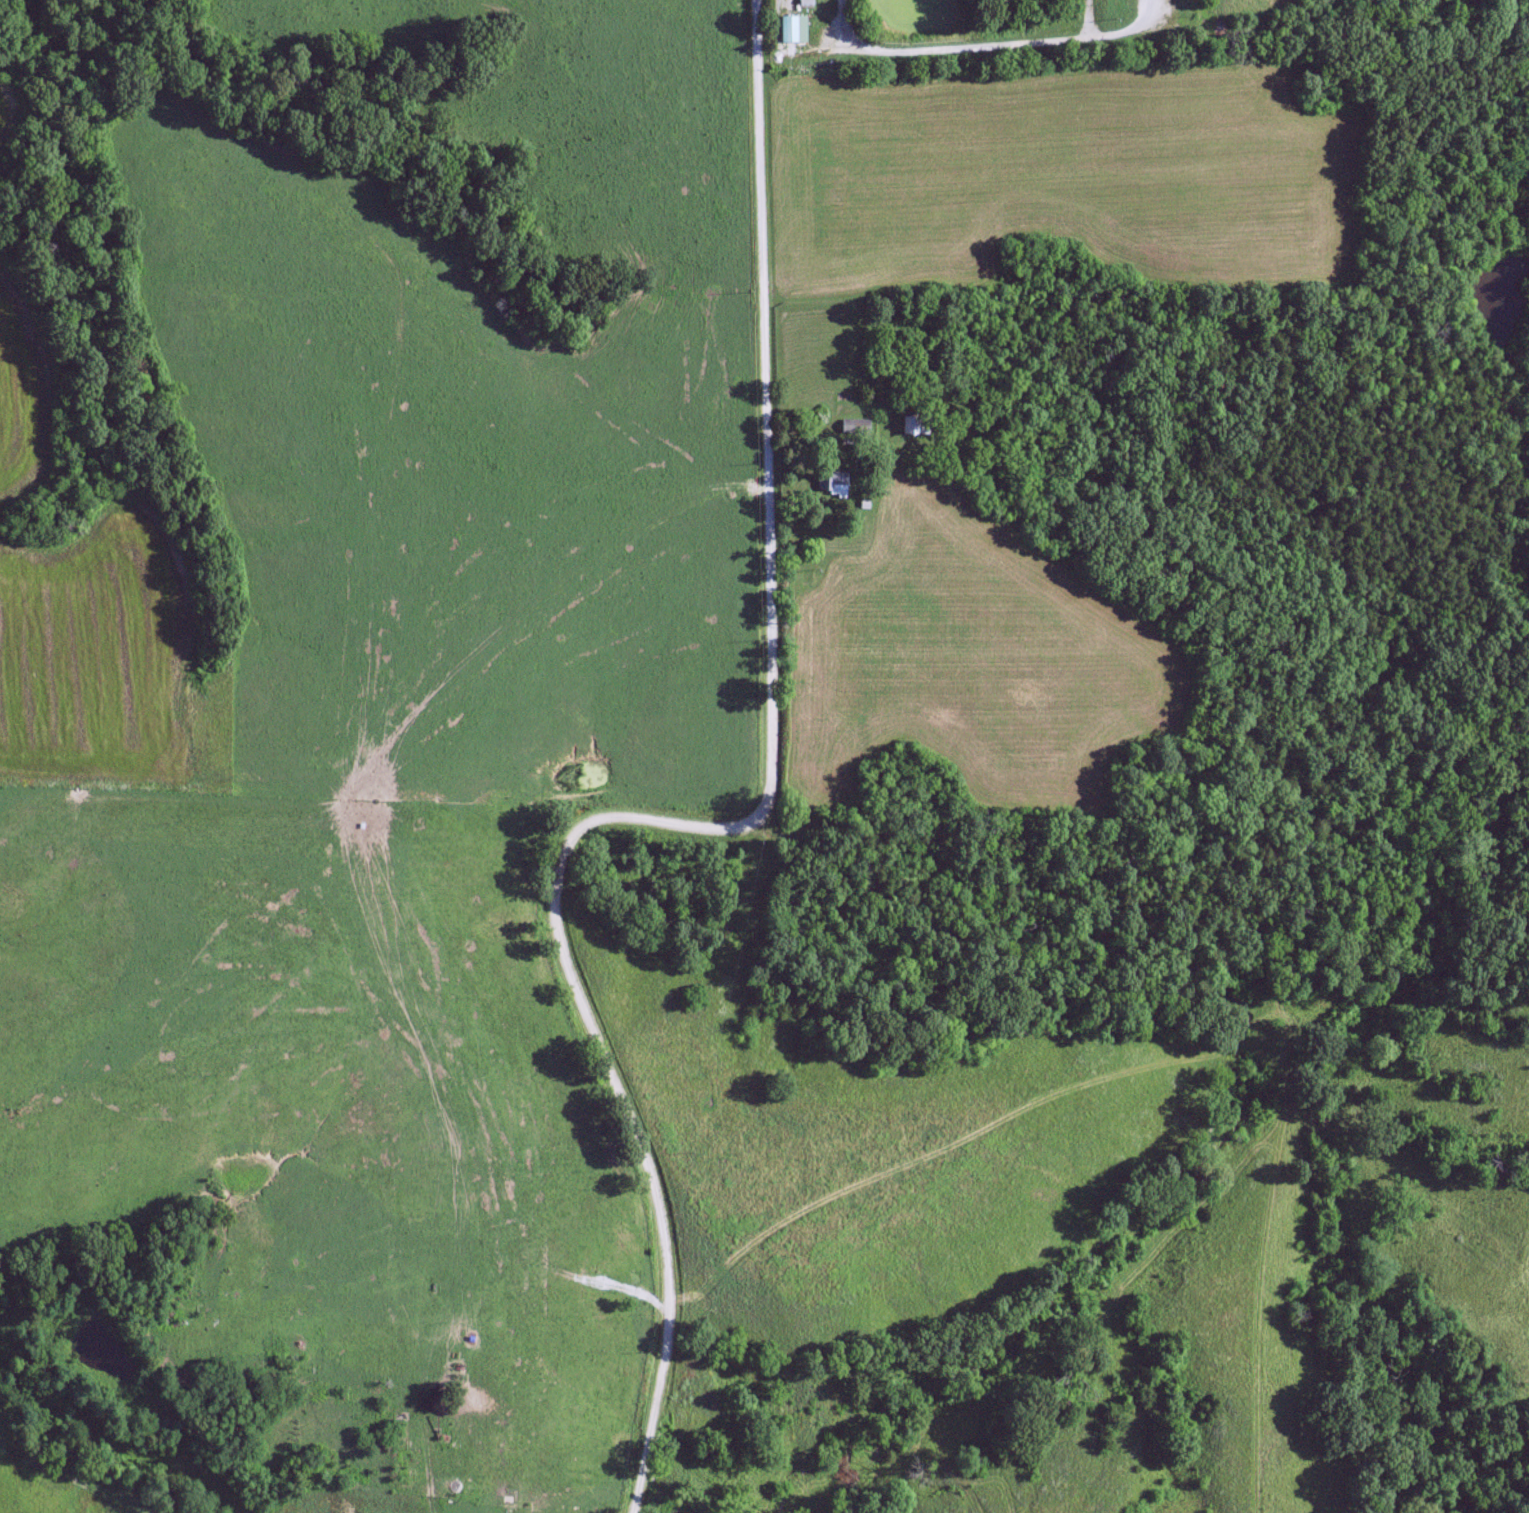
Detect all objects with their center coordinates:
building: (804, 2)
road: (839, 24)
building: (791, 29)
road: (956, 44)
building: (912, 426)
building: (854, 427)
building: (830, 481)
road: (720, 821)
building: (453, 1484)

